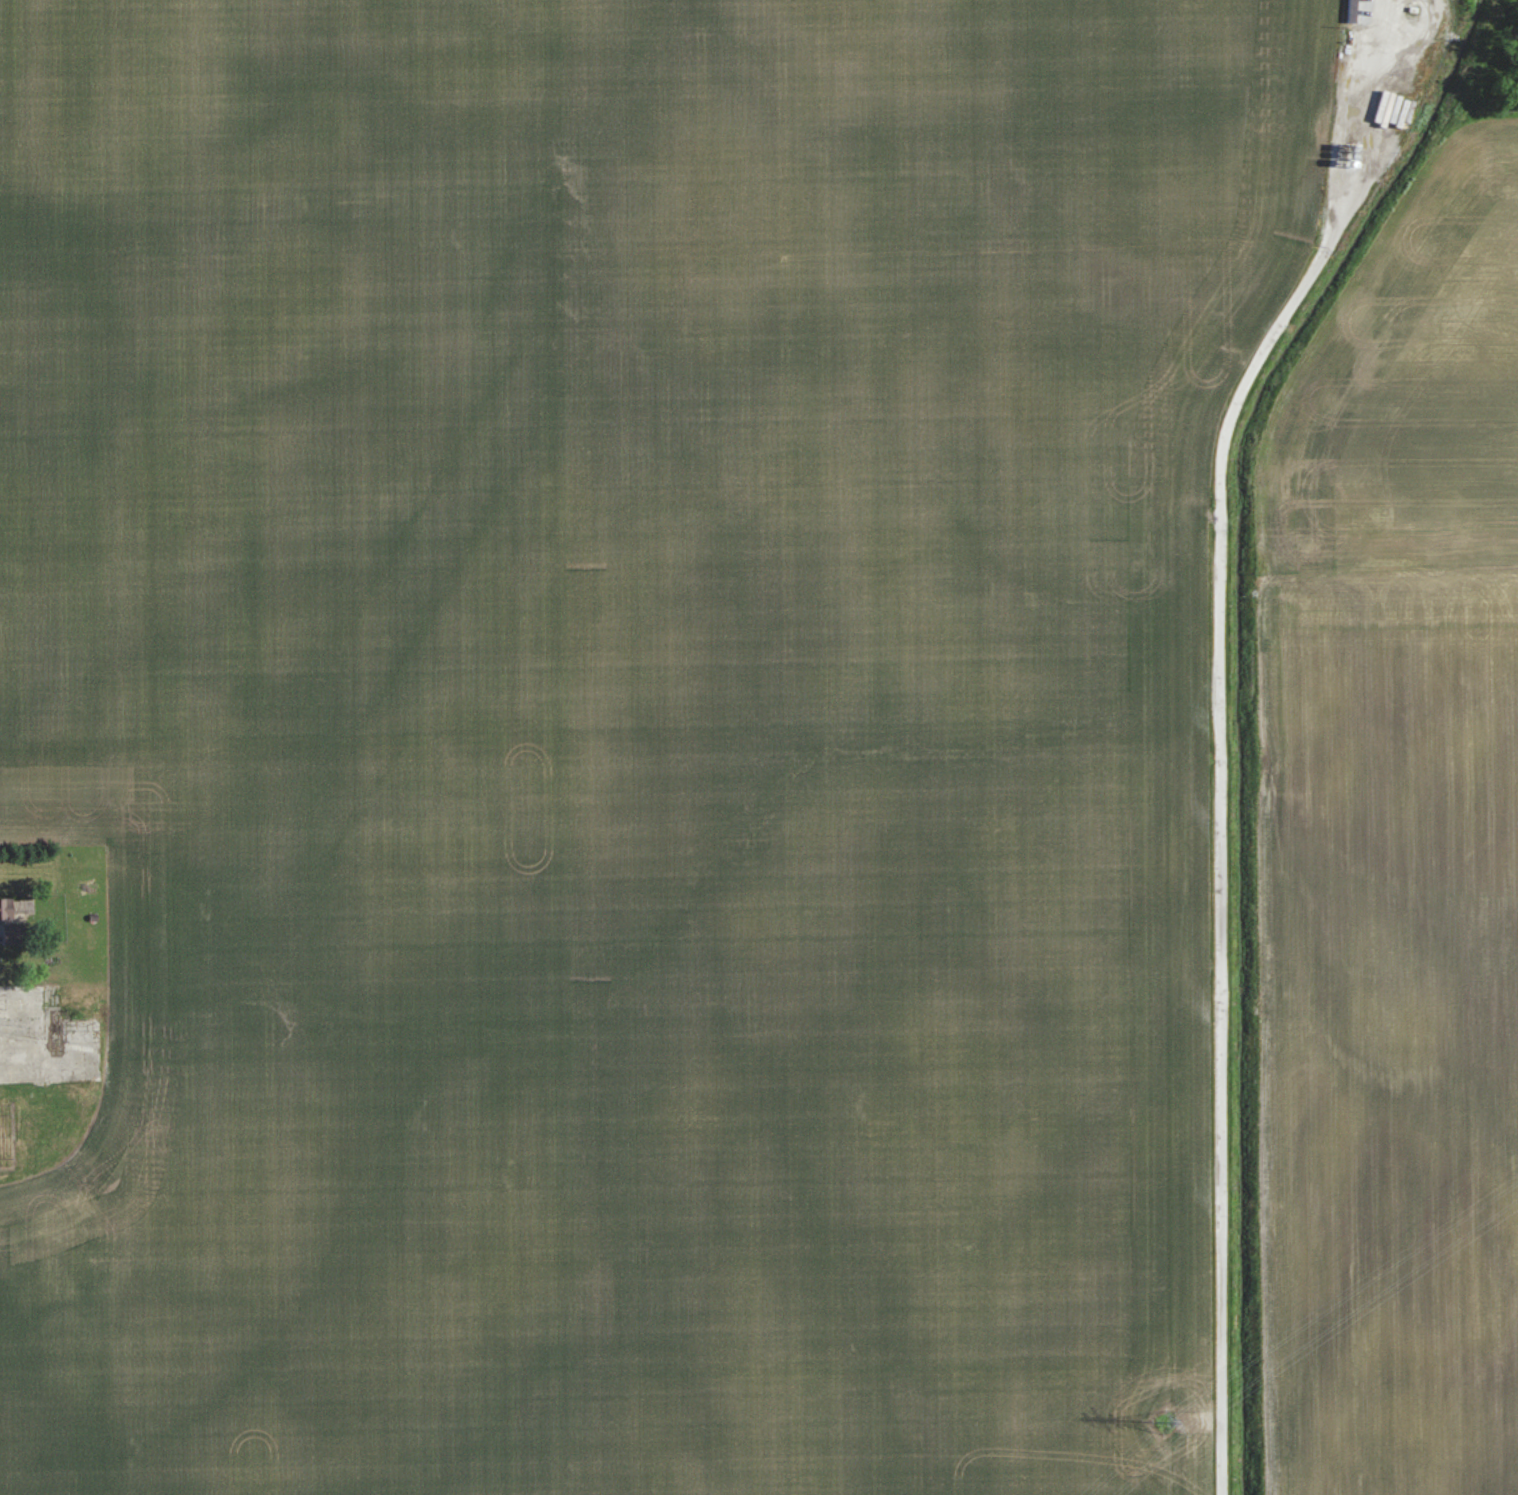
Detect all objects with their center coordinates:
building: (1352, 11)
building: (10, 922)
power tower: (1164, 1422)

